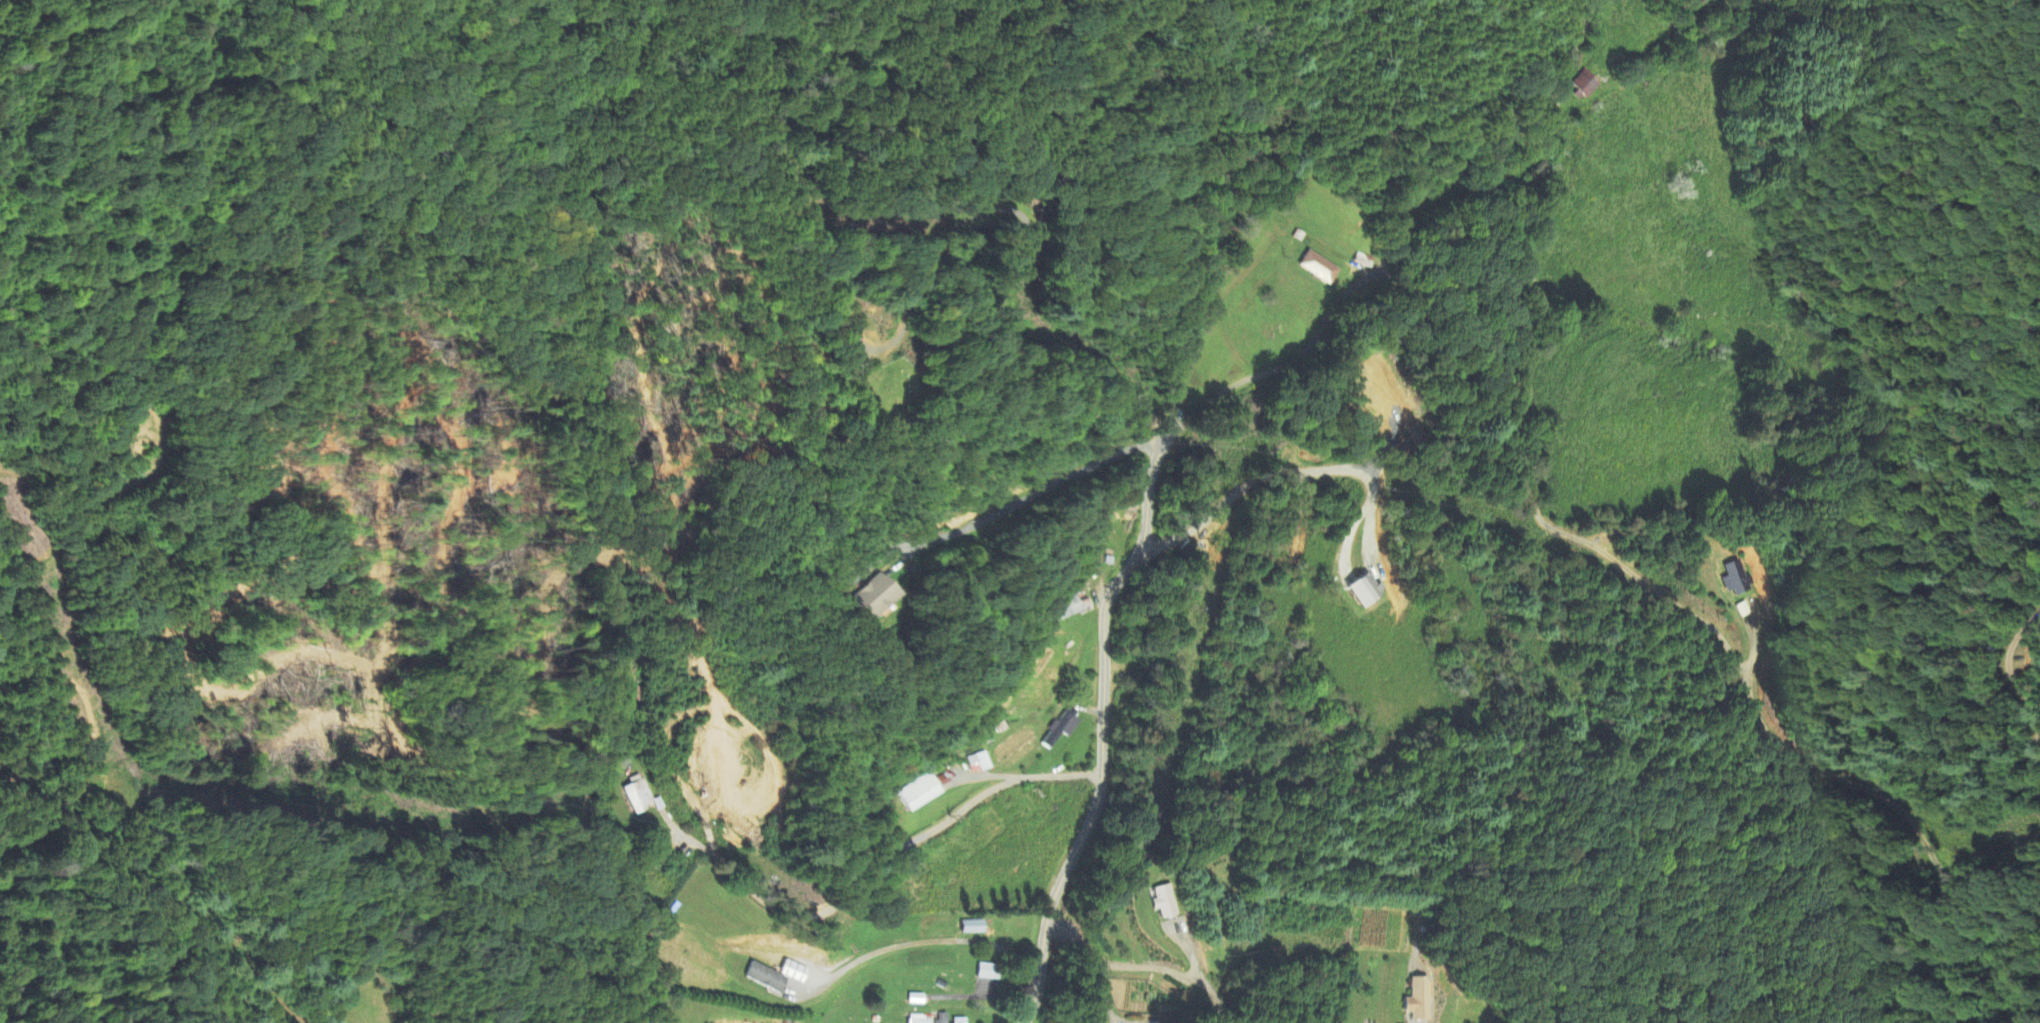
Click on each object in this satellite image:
building: (1584, 85)
building: (1319, 268)
park: (895, 393)
road: (1178, 434)
building: (1736, 578)
building: (1365, 589)
building: (874, 596)
building: (1069, 607)
road: (1680, 607)
road: (2013, 688)
building: (1068, 726)
building: (979, 762)
building: (919, 792)
building: (639, 796)
road: (892, 850)
building: (1164, 901)
building: (973, 927)
road: (924, 943)
road: (1132, 968)
building: (795, 972)
building: (988, 972)
building: (766, 978)
building: (1419, 1000)
building: (942, 1018)
building: (919, 1020)

